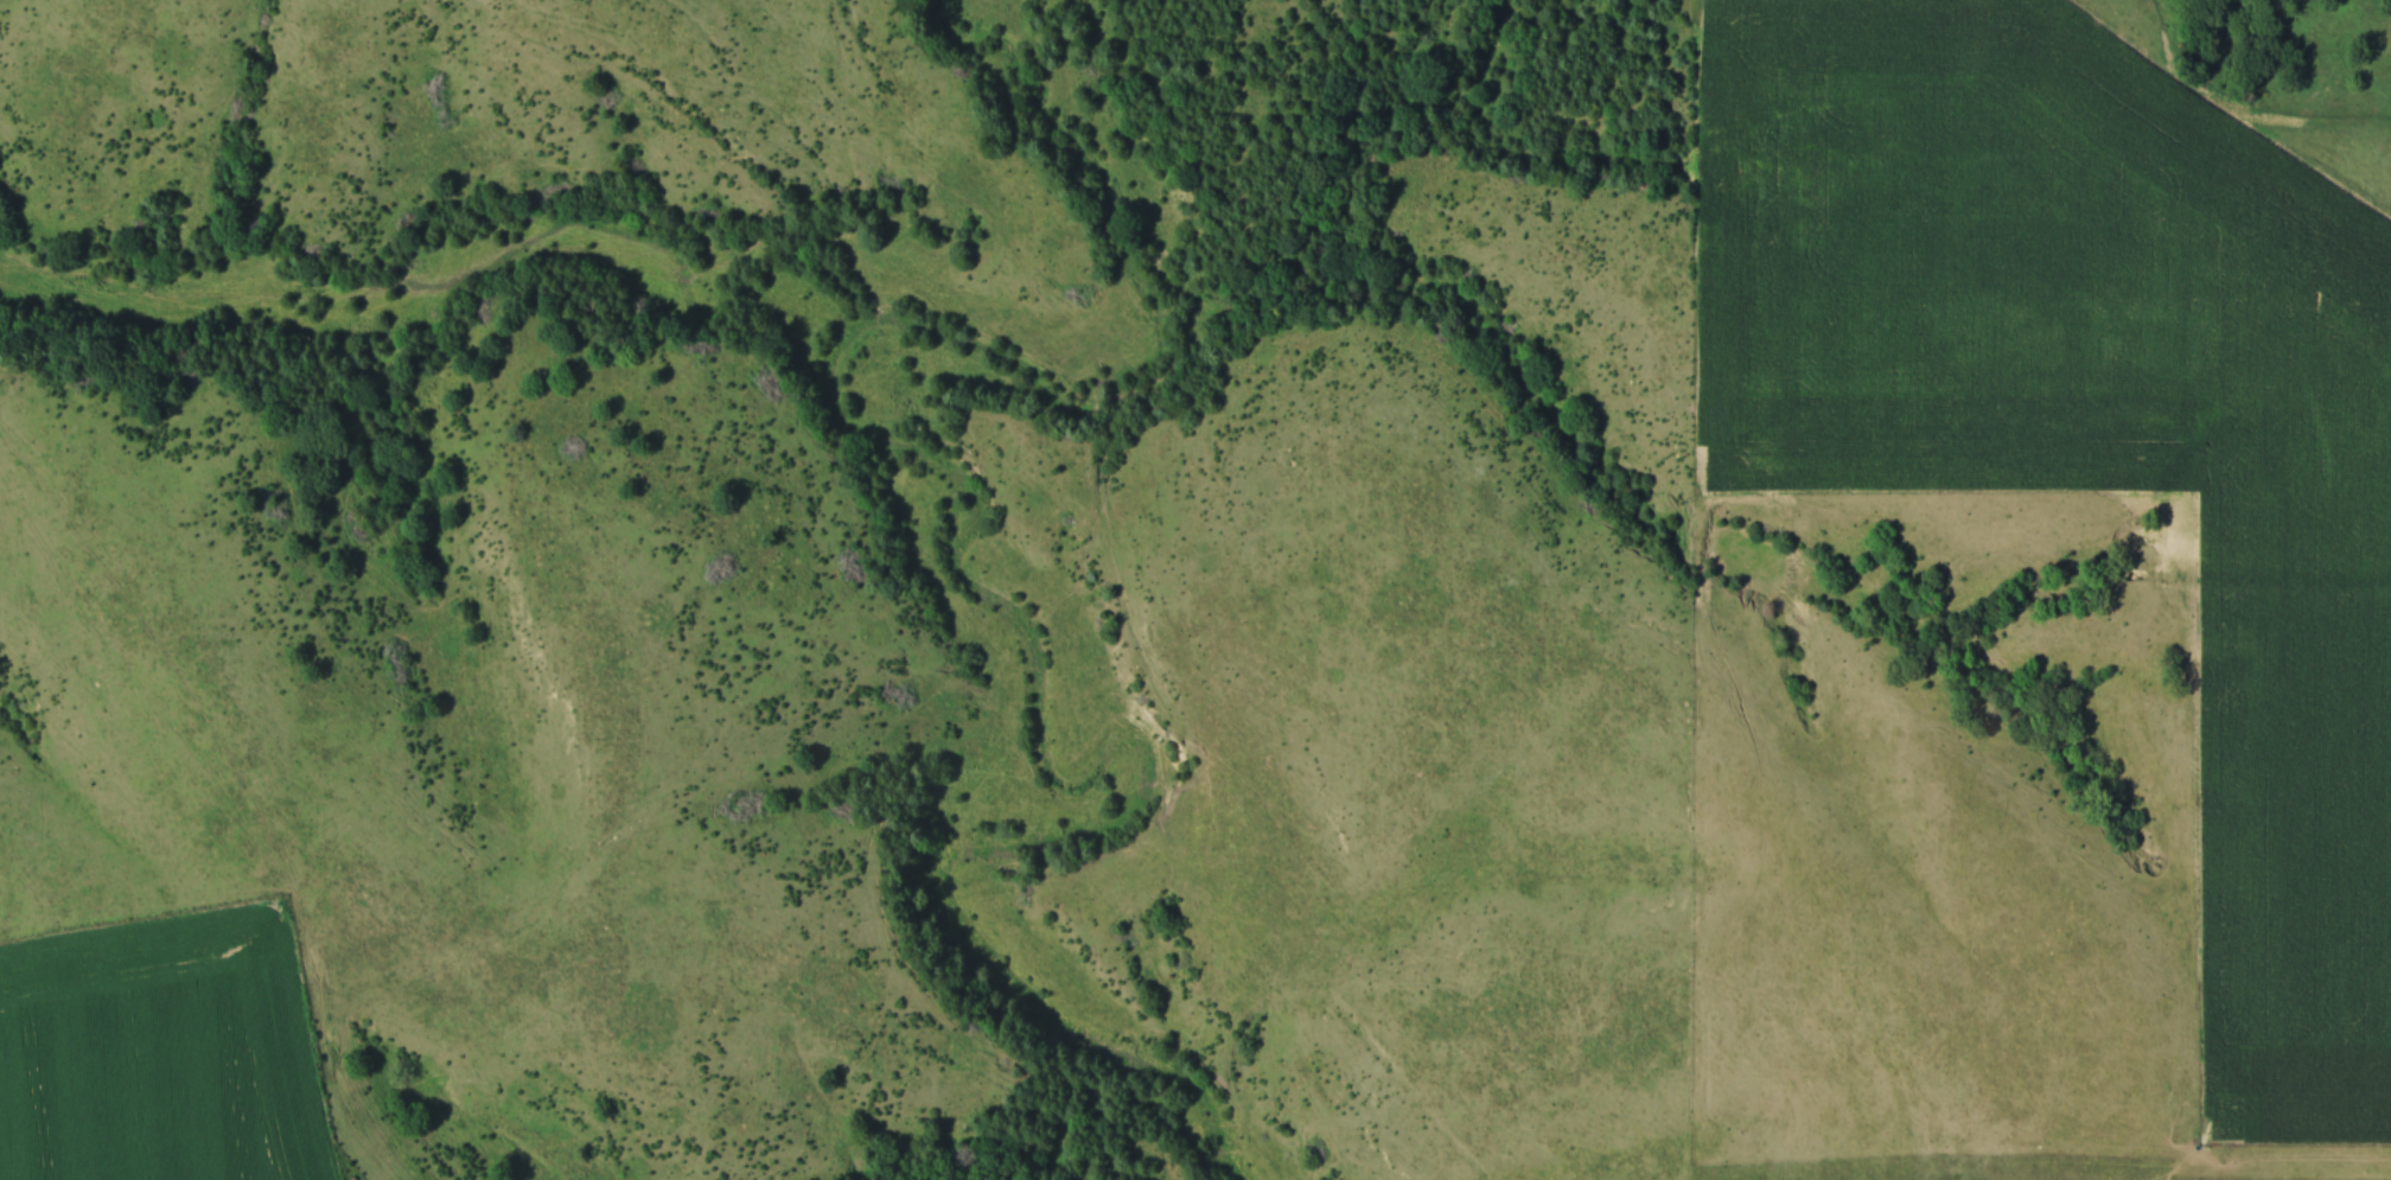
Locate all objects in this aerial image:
river: (954, 541)

